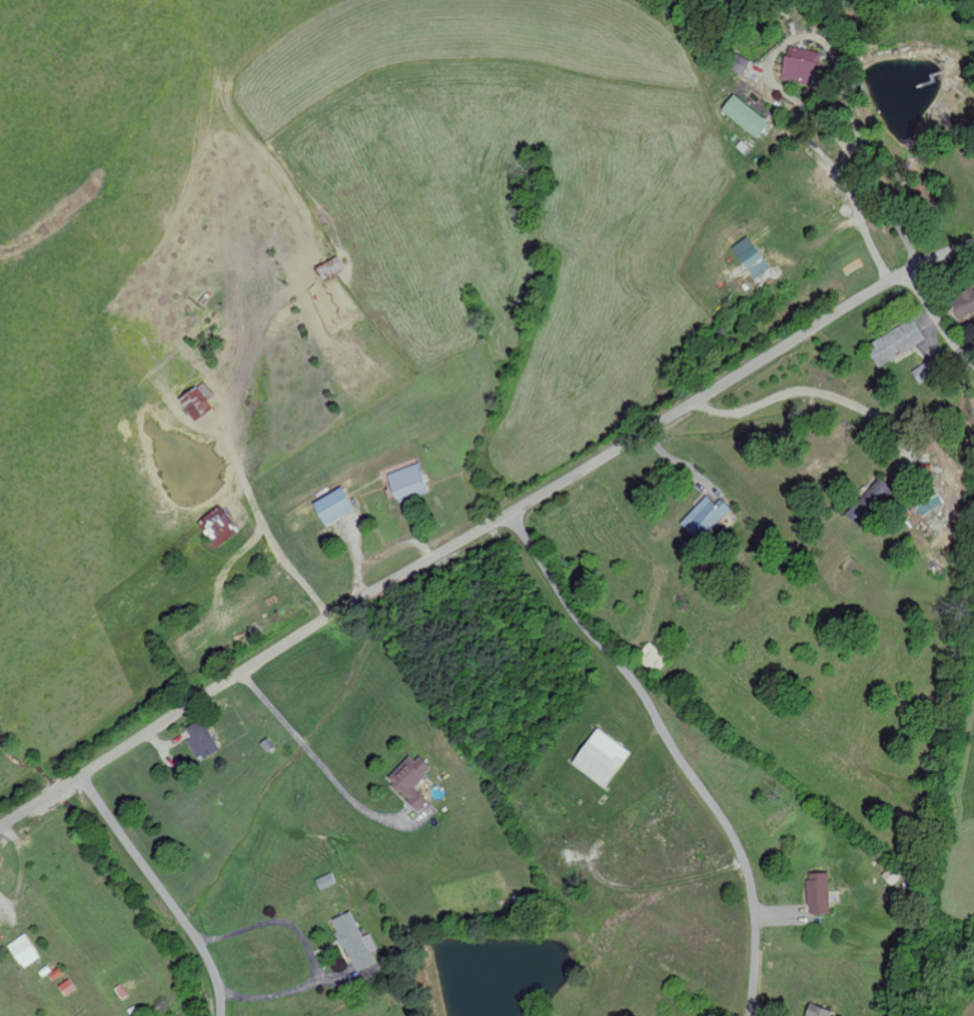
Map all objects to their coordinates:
building: (739, 64)
building: (801, 66)
building: (744, 116)
building: (750, 258)
building: (962, 303)
road: (936, 321)
building: (893, 343)
building: (196, 402)
building: (406, 482)
building: (867, 498)
building: (331, 505)
road: (509, 513)
building: (703, 516)
building: (216, 526)
building: (651, 657)
building: (200, 738)
road: (673, 749)
building: (599, 757)
building: (409, 780)
road: (26, 810)
building: (325, 880)
road: (163, 889)
building: (817, 892)
building: (354, 940)
building: (23, 950)
building: (66, 987)
building: (817, 1011)

